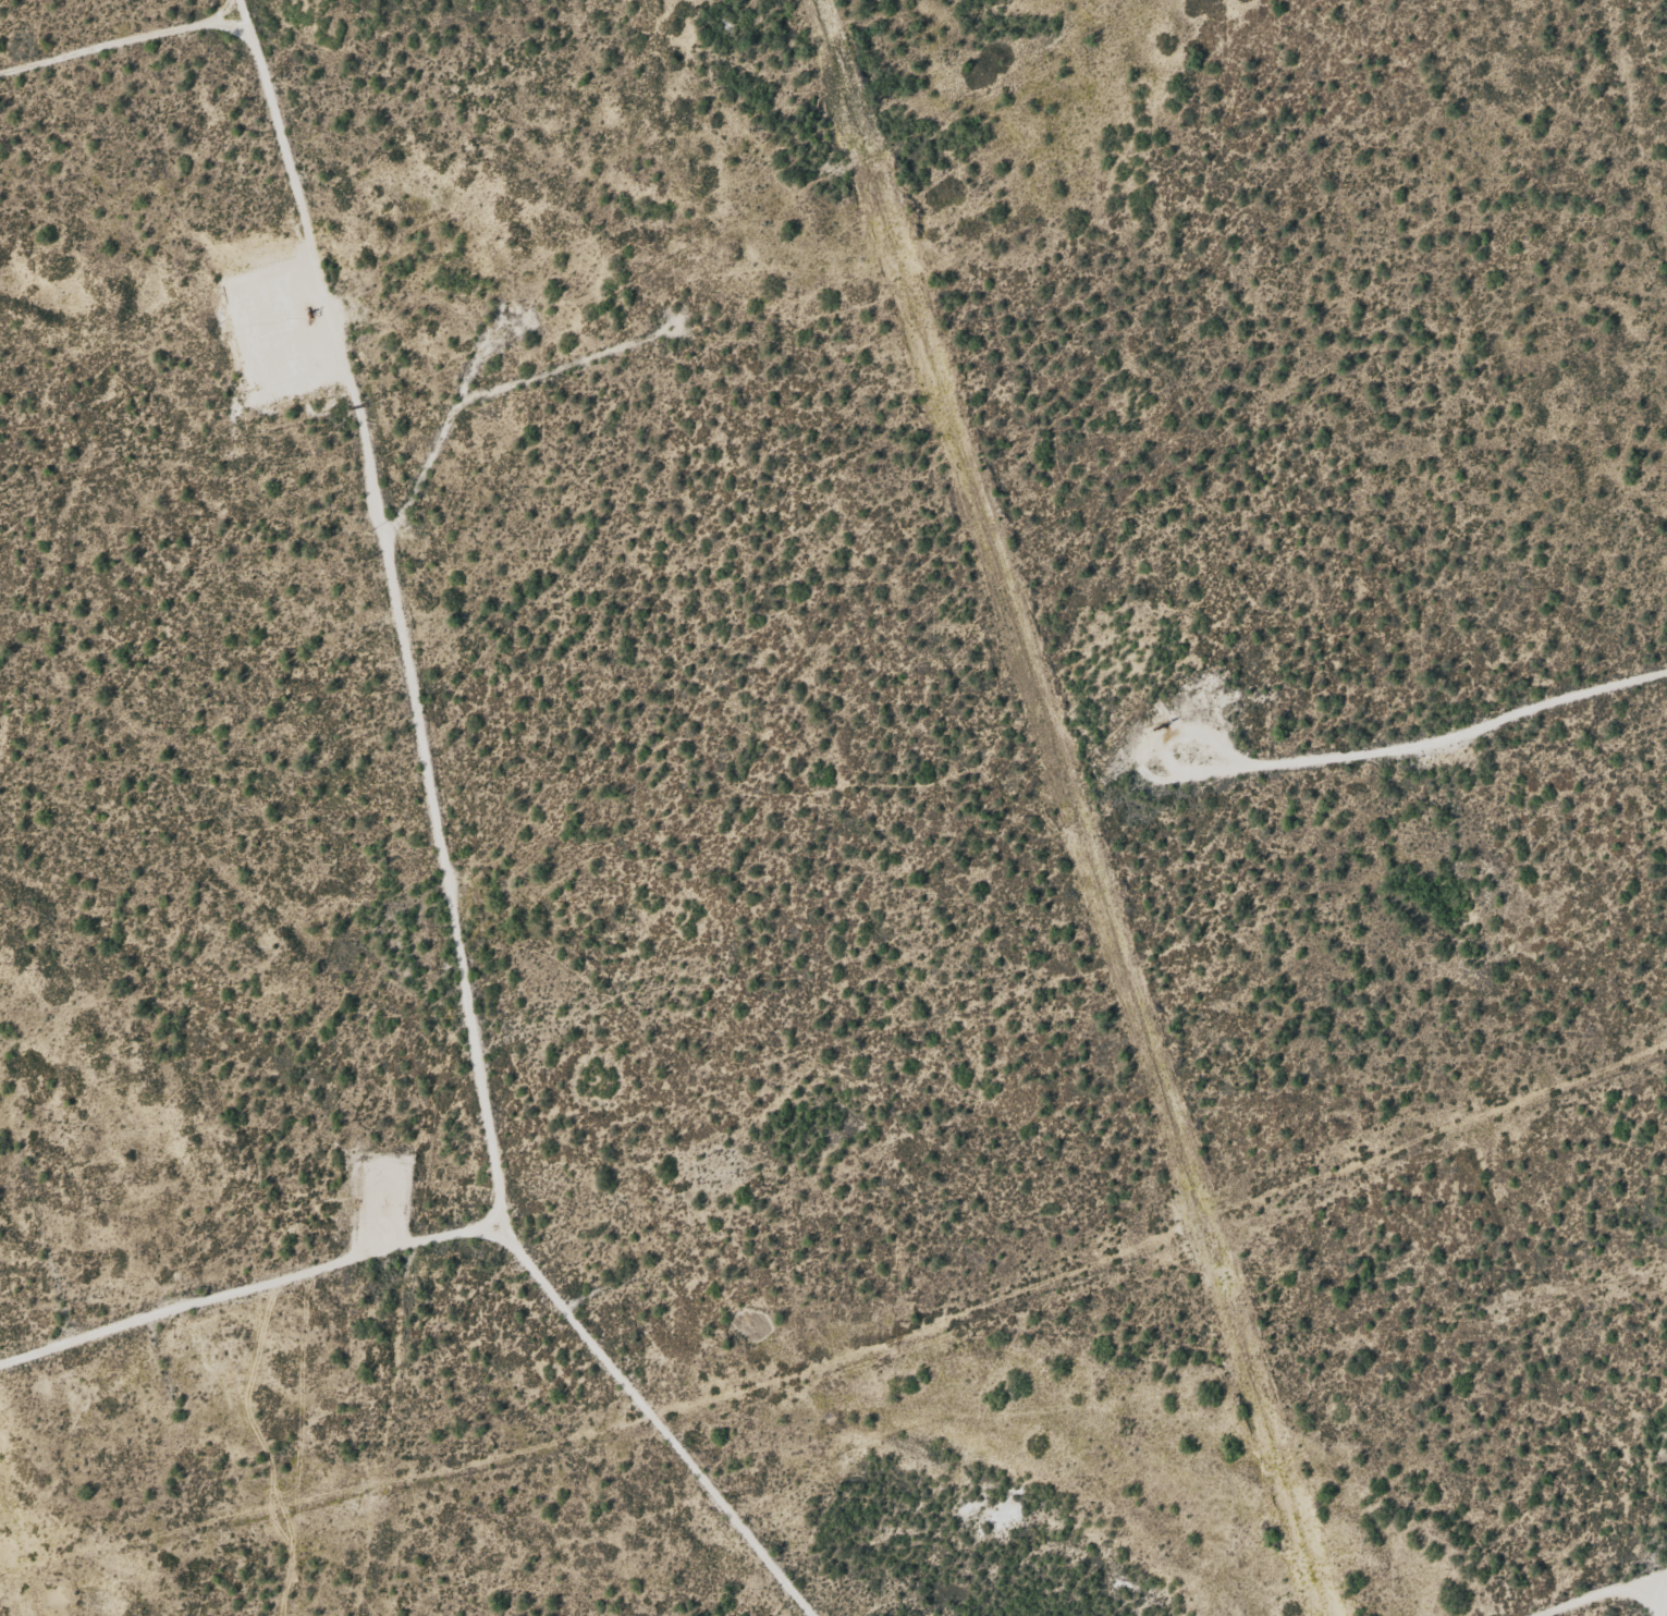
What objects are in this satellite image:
road: (1462, 731)
road: (1159, 747)
road: (413, 750)
road: (252, 1320)
road: (1660, 1605)

